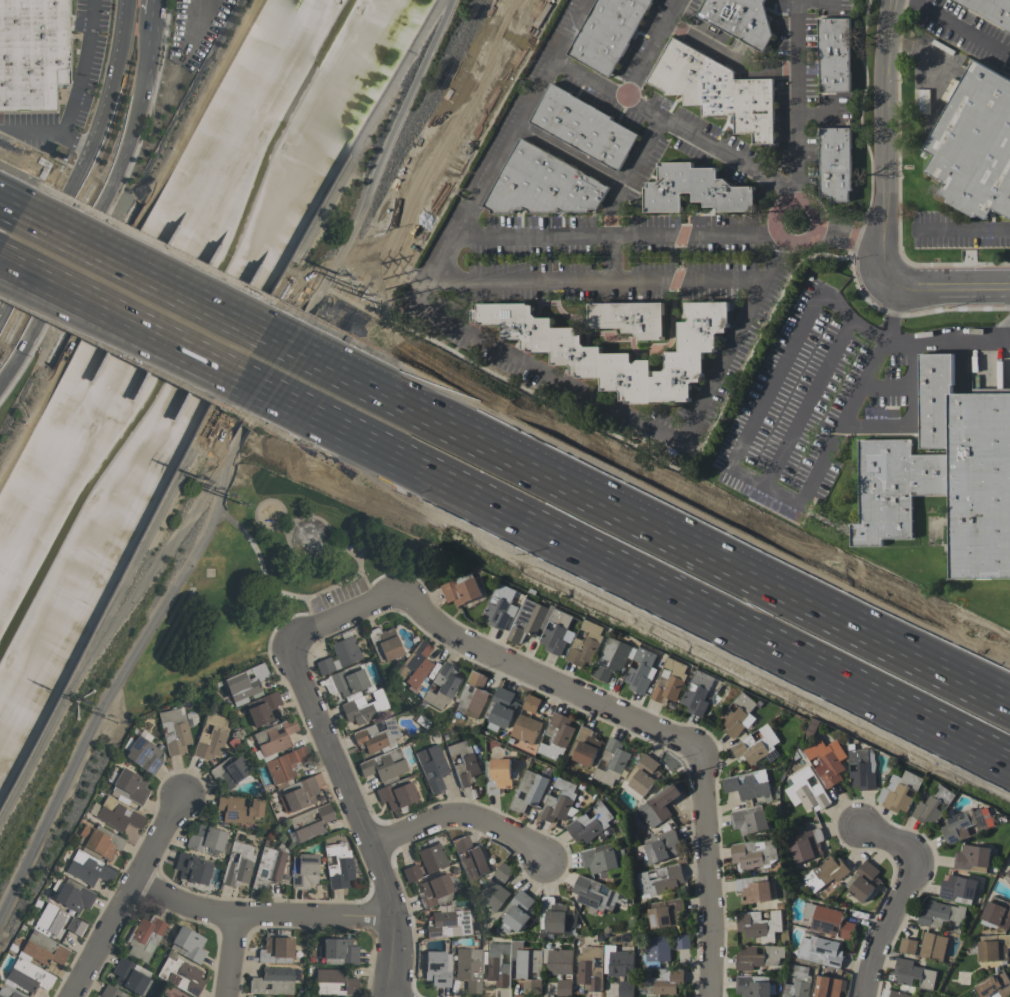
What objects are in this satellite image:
road: (153, 7)
building: (990, 11)
building: (738, 20)
road: (196, 21)
road: (953, 24)
building: (610, 33)
road: (123, 38)
road: (663, 50)
building: (33, 53)
building: (836, 57)
road: (738, 62)
road: (82, 65)
building: (717, 91)
road: (805, 100)
road: (681, 128)
building: (583, 129)
road: (32, 132)
road: (75, 141)
building: (974, 143)
road: (386, 146)
road: (886, 146)
road: (579, 159)
building: (838, 163)
road: (638, 178)
road: (10, 185)
building: (544, 186)
building: (695, 191)
road: (74, 192)
road: (97, 203)
road: (779, 216)
road: (961, 228)
road: (124, 233)
road: (852, 233)
road: (624, 237)
road: (621, 260)
road: (167, 261)
power tower: (338, 274)
road: (609, 283)
road: (955, 286)
road: (873, 303)
road: (894, 308)
road: (9, 317)
road: (849, 319)
building: (629, 322)
road: (109, 324)
river: (176, 329)
road: (886, 335)
road: (108, 338)
road: (960, 341)
road: (897, 343)
road: (501, 351)
building: (576, 357)
road: (776, 378)
road: (886, 387)
road: (249, 391)
road: (808, 403)
road: (910, 418)
road: (652, 454)
road: (824, 456)
building: (945, 474)
power tower: (199, 478)
road: (481, 505)
road: (661, 505)
road: (290, 517)
road: (283, 519)
road: (281, 530)
road: (336, 540)
road: (289, 548)
road: (356, 554)
road: (258, 557)
road: (358, 563)
park: (270, 576)
road: (416, 579)
road: (340, 581)
building: (461, 590)
road: (430, 598)
building: (499, 606)
road: (315, 609)
road: (343, 614)
building: (526, 619)
building: (555, 631)
building: (384, 643)
building: (585, 643)
building: (345, 651)
building: (611, 658)
building: (414, 664)
building: (323, 665)
building: (640, 670)
building: (347, 680)
building: (669, 681)
road: (847, 684)
building: (441, 685)
building: (239, 686)
road: (119, 688)
building: (697, 692)
building: (472, 695)
power tower: (76, 699)
building: (531, 703)
building: (364, 707)
building: (501, 707)
building: (264, 709)
building: (736, 714)
building: (526, 728)
road: (656, 729)
building: (174, 730)
building: (273, 736)
building: (376, 736)
building: (556, 736)
building: (210, 737)
building: (584, 745)
building: (756, 745)
building: (143, 754)
building: (464, 760)
building: (827, 760)
building: (612, 761)
building: (285, 765)
building: (384, 765)
building: (431, 766)
building: (862, 768)
building: (233, 771)
building: (498, 774)
building: (643, 774)
building: (748, 784)
building: (130, 785)
building: (529, 790)
building: (807, 790)
building: (899, 790)
building: (395, 794)
building: (298, 795)
building: (559, 800)
building: (659, 805)
building: (933, 805)
building: (238, 809)
building: (117, 813)
road: (356, 816)
road: (459, 816)
building: (749, 820)
building: (310, 821)
building: (592, 823)
building: (963, 823)
building: (205, 838)
building: (100, 841)
building: (807, 844)
building: (662, 845)
building: (754, 852)
building: (971, 856)
building: (470, 857)
building: (432, 858)
building: (599, 859)
building: (237, 864)
building: (338, 865)
building: (267, 867)
building: (88, 868)
building: (191, 868)
building: (304, 871)
building: (503, 871)
building: (410, 872)
building: (825, 873)
building: (1007, 875)
building: (660, 880)
building: (864, 880)
building: (436, 887)
building: (958, 887)
building: (754, 888)
building: (594, 893)
building: (492, 894)
building: (73, 897)
road: (128, 897)
road: (897, 897)
building: (519, 910)
road: (261, 913)
building: (666, 913)
building: (996, 913)
building: (555, 915)
building: (942, 916)
building: (49, 919)
building: (828, 920)
building: (448, 921)
building: (759, 923)
building: (75, 926)
building: (143, 937)
building: (682, 941)
building: (188, 943)
building: (907, 944)
building: (933, 946)
building: (657, 948)
building: (994, 948)
building: (43, 949)
building: (275, 949)
building: (338, 950)
building: (821, 950)
road: (228, 954)
building: (757, 956)
building: (559, 961)
building: (617, 961)
building: (498, 964)
building: (589, 966)
building: (436, 967)
building: (468, 968)
building: (529, 969)
building: (914, 973)
building: (28, 975)
building: (180, 975)
building: (130, 976)
building: (274, 979)
building: (663, 981)
building: (797, 981)
building: (334, 982)
building: (995, 985)
building: (564, 986)
building: (828, 986)
building: (752, 987)
building: (626, 988)
building: (9, 991)
building: (108, 991)
building: (899, 994)
building: (165, 996)
building: (923, 996)

